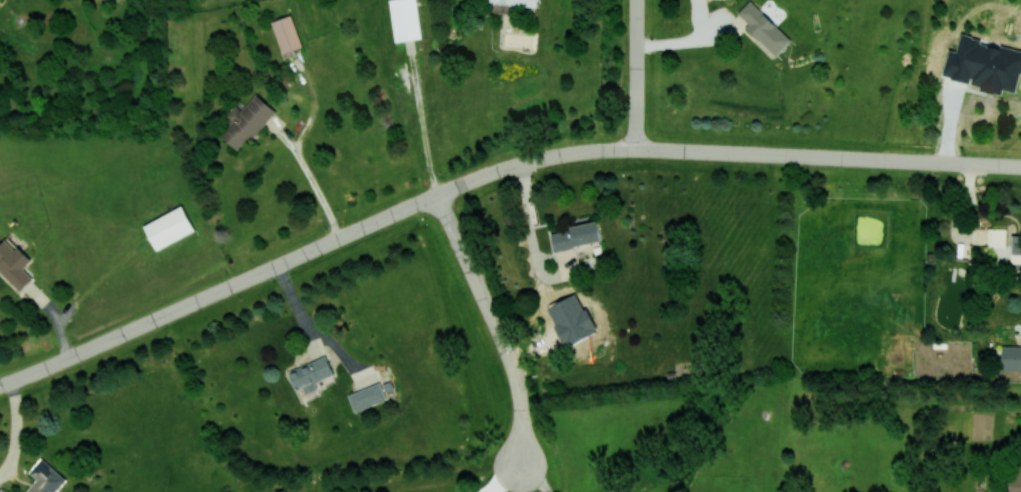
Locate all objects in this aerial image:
building: (405, 19)
building: (764, 28)
building: (286, 33)
road: (688, 43)
building: (967, 59)
road: (636, 74)
building: (246, 121)
road: (828, 157)
road: (315, 187)
building: (169, 227)
building: (575, 236)
building: (996, 237)
road: (313, 248)
building: (1016, 249)
building: (14, 265)
road: (494, 322)
building: (1011, 357)
building: (310, 374)
building: (367, 396)
road: (536, 474)
road: (505, 475)
building: (45, 478)
building: (1016, 480)
building: (2, 490)

